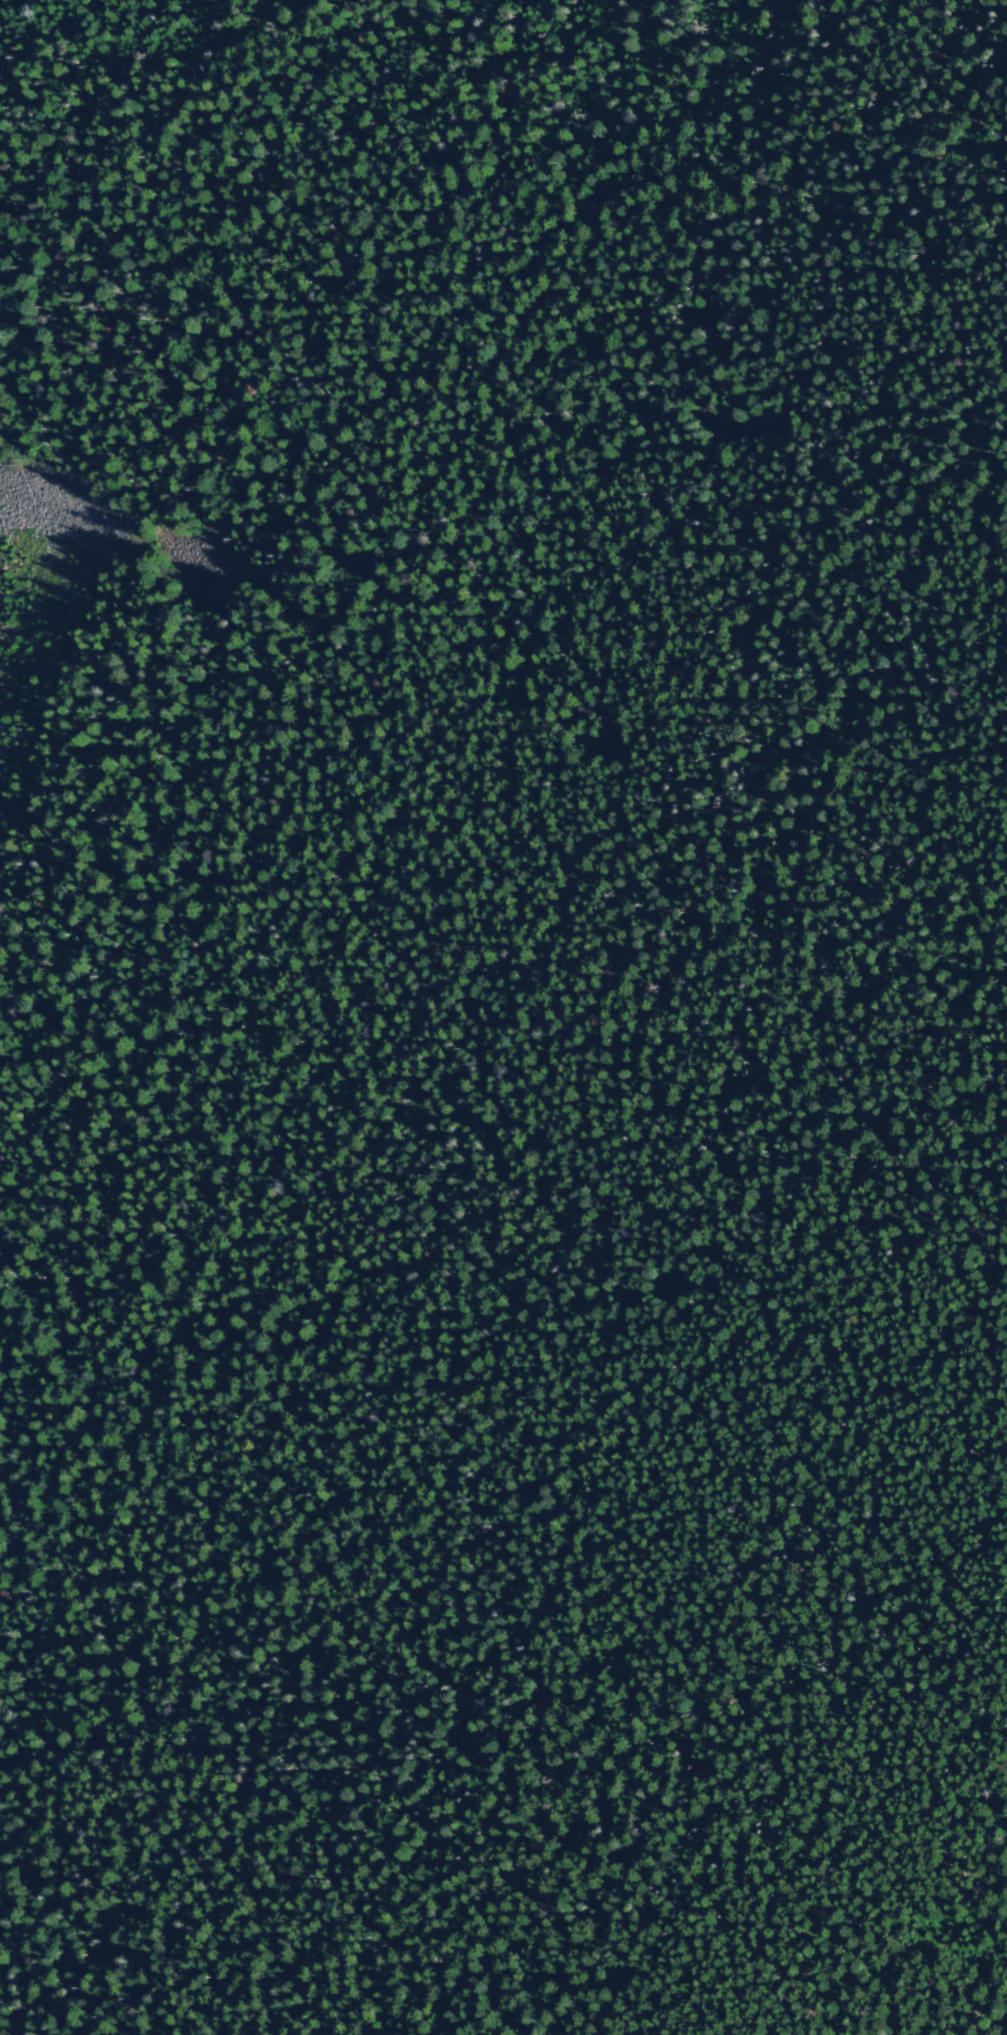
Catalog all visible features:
road: (924, 1949)

